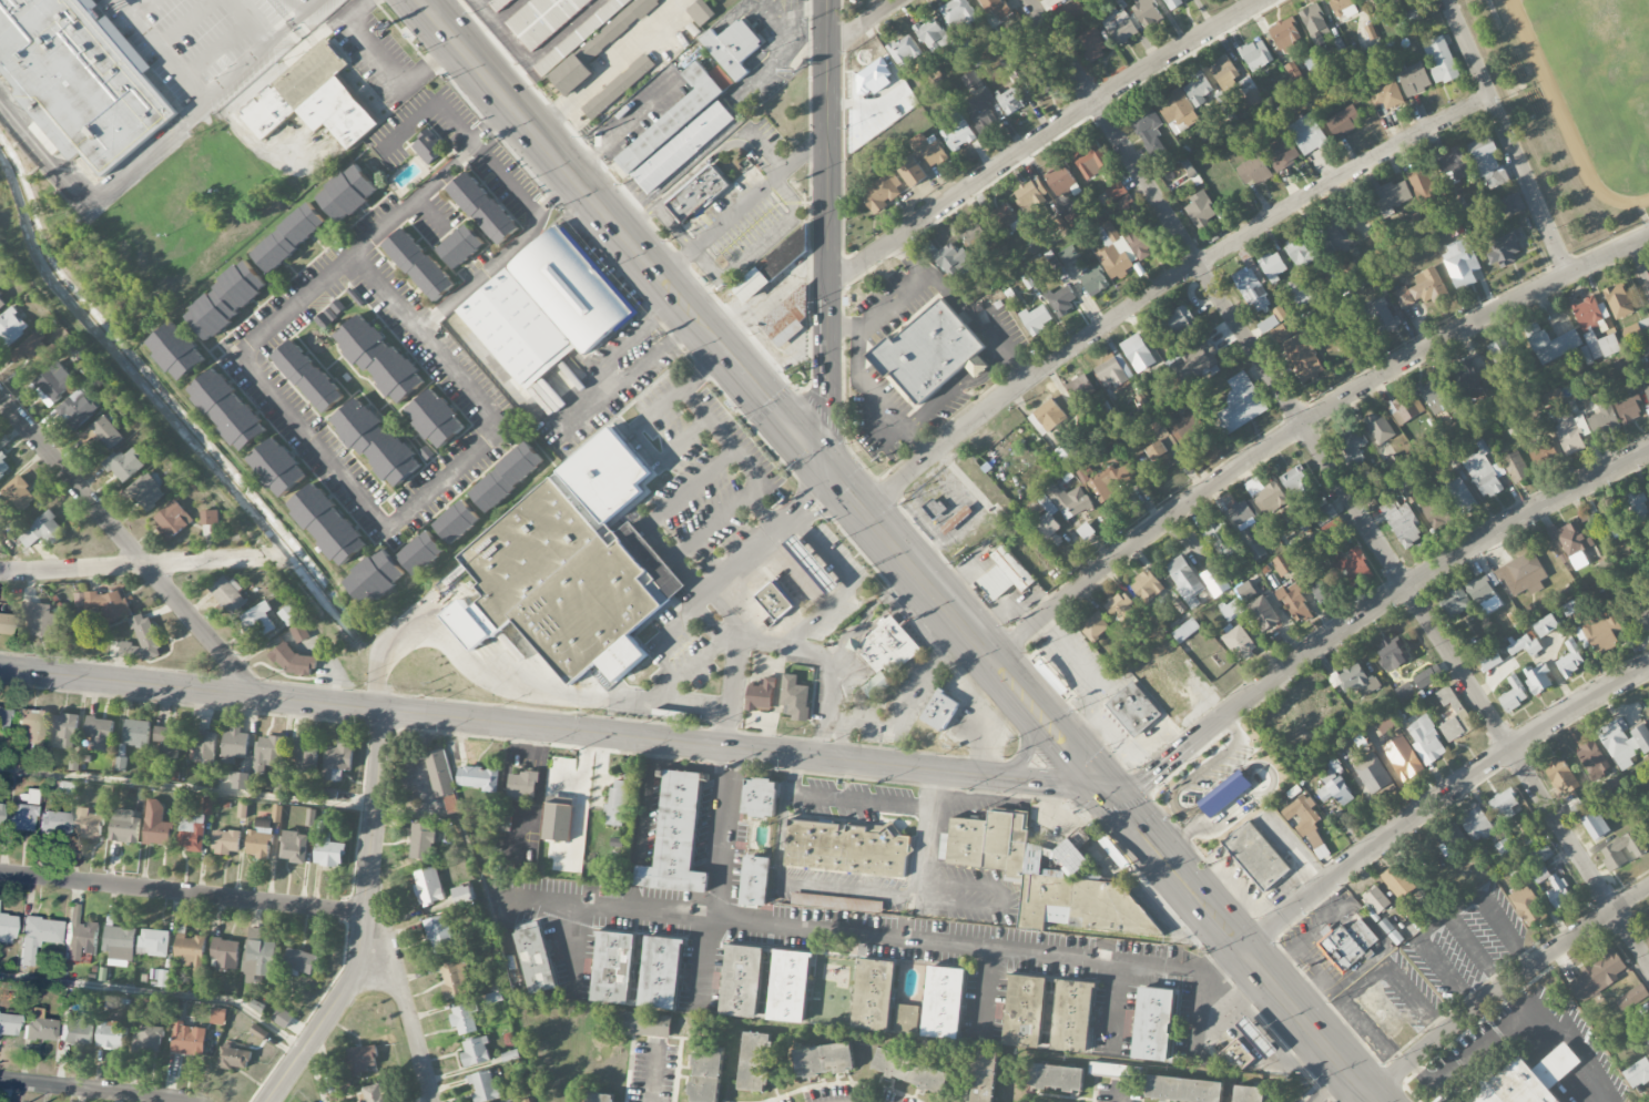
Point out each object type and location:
building: (1365, 0)
building: (497, 3)
building: (1174, 3)
road: (309, 6)
building: (1343, 8)
building: (996, 9)
building: (700, 12)
building: (1146, 12)
building: (957, 13)
building: (1419, 13)
building: (1069, 14)
building: (541, 18)
road: (253, 19)
road: (287, 24)
road: (863, 24)
building: (1315, 24)
building: (1122, 25)
building: (1285, 34)
building: (933, 35)
building: (589, 42)
building: (1092, 45)
building: (736, 49)
building: (905, 52)
building: (1255, 55)
building: (1441, 60)
road: (386, 68)
building: (1223, 73)
building: (81, 79)
building: (1040, 79)
building: (1414, 79)
building: (970, 80)
road: (190, 83)
building: (618, 86)
building: (1199, 89)
building: (1252, 95)
building: (1386, 95)
building: (313, 99)
building: (1009, 101)
building: (1223, 104)
road: (428, 108)
building: (983, 111)
building: (1177, 112)
building: (1344, 122)
road: (485, 127)
road: (622, 127)
building: (1149, 130)
building: (678, 132)
building: (958, 133)
building: (1307, 134)
road: (538, 136)
road: (1040, 136)
road: (1509, 136)
road: (478, 144)
building: (428, 146)
building: (928, 150)
building: (1283, 154)
building: (1089, 160)
building: (1487, 162)
building: (1454, 166)
building: (1253, 171)
building: (913, 173)
building: (1060, 180)
road: (509, 182)
road: (562, 190)
building: (1426, 190)
building: (1116, 191)
building: (347, 193)
building: (698, 193)
building: (882, 193)
building: (1031, 195)
building: (1392, 195)
road: (410, 204)
road: (742, 204)
building: (1511, 205)
building: (482, 207)
road: (539, 208)
building: (1200, 211)
building: (1006, 220)
building: (1455, 228)
building: (977, 232)
road: (826, 236)
building: (288, 237)
building: (1334, 237)
building: (1139, 243)
building: (460, 246)
building: (1506, 248)
building: (1113, 252)
building: (1299, 252)
building: (1068, 255)
road: (1642, 255)
building: (953, 261)
building: (418, 263)
building: (1460, 264)
building: (773, 265)
building: (1273, 266)
road: (478, 277)
building: (1093, 282)
road: (1163, 284)
road: (669, 286)
building: (1252, 289)
building: (1422, 289)
building: (1300, 292)
road: (772, 296)
building: (225, 299)
building: (1062, 299)
building: (1618, 300)
building: (1, 303)
building: (547, 307)
road: (961, 309)
road: (689, 310)
road: (665, 312)
building: (1381, 316)
building: (787, 317)
building: (1037, 319)
building: (1178, 324)
building: (1268, 324)
building: (10, 328)
road: (844, 328)
building: (1586, 329)
building: (1635, 329)
building: (460, 330)
road: (708, 331)
building: (1280, 334)
road: (680, 337)
building: (1550, 343)
road: (625, 347)
road: (722, 348)
building: (176, 350)
building: (929, 351)
building: (32, 353)
building: (1138, 354)
building: (1500, 354)
building: (378, 358)
building: (1302, 358)
building: (1197, 363)
road: (705, 370)
building: (1113, 371)
building: (307, 375)
park: (798, 375)
building: (971, 378)
building: (1467, 378)
building: (52, 385)
building: (1079, 387)
road: (593, 391)
building: (1646, 392)
building: (1436, 396)
building: (1553, 397)
road: (878, 402)
building: (1240, 405)
building: (1405, 408)
building: (1629, 408)
building: (77, 409)
building: (228, 410)
road: (778, 414)
building: (1049, 416)
building: (435, 418)
road: (1304, 424)
building: (1597, 425)
building: (1378, 428)
building: (1189, 431)
building: (1570, 432)
building: (102, 433)
road: (560, 433)
building: (376, 441)
road: (642, 447)
building: (1351, 447)
building: (1544, 452)
building: (1159, 455)
building: (124, 465)
building: (3, 466)
building: (277, 467)
building: (1515, 467)
building: (1484, 472)
traffic signals: (831, 473)
building: (1365, 475)
building: (507, 477)
road: (1340, 480)
building: (1113, 481)
building: (1297, 483)
road: (754, 489)
road: (689, 490)
building: (146, 492)
building: (19, 493)
building: (1265, 496)
building: (1460, 496)
building: (1638, 507)
building: (1061, 508)
building: (1242, 514)
building: (1325, 514)
building: (1436, 514)
building: (208, 518)
building: (172, 520)
road: (715, 520)
building: (955, 520)
building: (457, 521)
road: (384, 522)
building: (1402, 522)
building: (327, 524)
building: (1332, 527)
building: (42, 531)
building: (1221, 540)
building: (1572, 542)
road: (131, 549)
building: (421, 552)
road: (140, 564)
building: (566, 564)
building: (812, 564)
gas station: (812, 564)
building: (1282, 564)
building: (1354, 567)
road: (793, 574)
building: (1005, 574)
building: (375, 578)
building: (1185, 581)
building: (1214, 581)
building: (1508, 581)
road: (847, 585)
road: (898, 586)
building: (1147, 586)
building: (1324, 589)
road: (710, 591)
building: (228, 594)
road: (906, 596)
building: (774, 601)
building: (104, 603)
building: (1294, 603)
building: (1455, 603)
building: (1121, 608)
building: (1231, 610)
building: (1263, 613)
road: (1368, 613)
building: (1641, 616)
building: (38, 619)
building: (257, 622)
building: (4, 623)
building: (1546, 625)
building: (1095, 626)
road: (965, 629)
road: (852, 630)
building: (1185, 631)
building: (299, 633)
building: (1600, 633)
road: (856, 640)
building: (142, 641)
building: (1239, 643)
building: (1524, 645)
road: (949, 646)
building: (885, 654)
road: (810, 656)
building: (1393, 656)
building: (1489, 660)
building: (1570, 660)
road: (662, 661)
building: (1427, 676)
building: (1538, 678)
building: (1354, 682)
road: (512, 684)
road: (669, 688)
building: (761, 694)
building: (1514, 695)
building: (795, 698)
building: (1133, 710)
building: (939, 711)
building: (1459, 712)
building: (3, 716)
road: (895, 718)
building: (31, 725)
building: (1385, 725)
road: (550, 731)
building: (64, 732)
building: (100, 733)
building: (136, 733)
road: (828, 738)
building: (170, 739)
building: (1426, 741)
building: (1623, 742)
building: (202, 745)
building: (234, 746)
building: (267, 753)
road: (1026, 753)
building: (305, 755)
building: (1592, 761)
building: (337, 762)
building: (1407, 765)
building: (439, 773)
building: (1372, 773)
road: (790, 774)
building: (1563, 777)
building: (478, 778)
building: (241, 780)
traffic signals: (1102, 783)
building: (522, 785)
building: (1334, 786)
road: (934, 789)
building: (327, 795)
road: (977, 796)
building: (1226, 796)
building: (761, 797)
road: (1437, 798)
road: (859, 799)
building: (450, 804)
building: (617, 804)
building: (1504, 805)
building: (207, 806)
road: (376, 809)
building: (0, 812)
road: (375, 813)
building: (22, 814)
building: (54, 823)
building: (557, 823)
building: (88, 824)
building: (1306, 824)
building: (156, 825)
building: (1477, 825)
building: (1595, 825)
building: (124, 826)
road: (639, 826)
building: (190, 834)
building: (676, 837)
building: (225, 841)
building: (421, 841)
building: (258, 843)
building: (294, 847)
building: (327, 848)
building: (846, 848)
building: (1452, 849)
building: (1622, 850)
building: (1256, 856)
building: (1017, 861)
building: (1538, 861)
road: (1171, 867)
building: (1517, 869)
building: (755, 879)
building: (1397, 881)
building: (428, 886)
road: (183, 892)
building: (1558, 892)
building: (464, 895)
road: (933, 898)
building: (1415, 899)
building: (816, 900)
building: (1376, 900)
road: (1466, 904)
building: (861, 905)
building: (1529, 908)
road: (696, 918)
road: (1436, 925)
building: (7, 928)
road: (1509, 928)
road: (364, 932)
building: (80, 935)
building: (37, 937)
building: (438, 937)
road: (916, 940)
building: (154, 942)
building: (1350, 943)
building: (120, 945)
building: (190, 950)
road: (1477, 950)
building: (225, 953)
building: (258, 957)
building: (537, 960)
building: (299, 961)
road: (709, 961)
road: (1184, 966)
building: (613, 968)
road: (1380, 972)
road: (1447, 972)
building: (661, 973)
building: (1598, 976)
building: (456, 979)
building: (741, 980)
building: (790, 986)
road: (1503, 987)
road: (187, 994)
building: (874, 994)
building: (1632, 997)
building: (944, 1002)
road: (1114, 1004)
building: (1025, 1011)
building: (1072, 1016)
building: (218, 1017)
building: (283, 1018)
road: (410, 1019)
building: (465, 1019)
building: (906, 1019)
building: (1153, 1023)
building: (8, 1024)
building: (643, 1024)
road: (1306, 1026)
building: (39, 1027)
road: (319, 1028)
building: (75, 1029)
road: (1567, 1032)
building: (111, 1037)
building: (1258, 1038)
gas station: (1258, 1038)
building: (146, 1040)
building: (187, 1040)
building: (1648, 1041)
building: (476, 1052)
road: (1468, 1052)
building: (234, 1058)
building: (1238, 1058)
building: (360, 1060)
building: (824, 1060)
building: (755, 1061)
building: (1114, 1070)
building: (910, 1071)
road: (655, 1073)
building: (705, 1073)
building: (1638, 1073)
building: (984, 1077)
building: (1056, 1078)
building: (1529, 1080)
building: (483, 1086)
road: (98, 1090)
building: (1182, 1090)
building: (373, 1094)
road: (1117, 1094)
building: (1249, 1094)
building: (601, 1096)
road: (1353, 1099)

